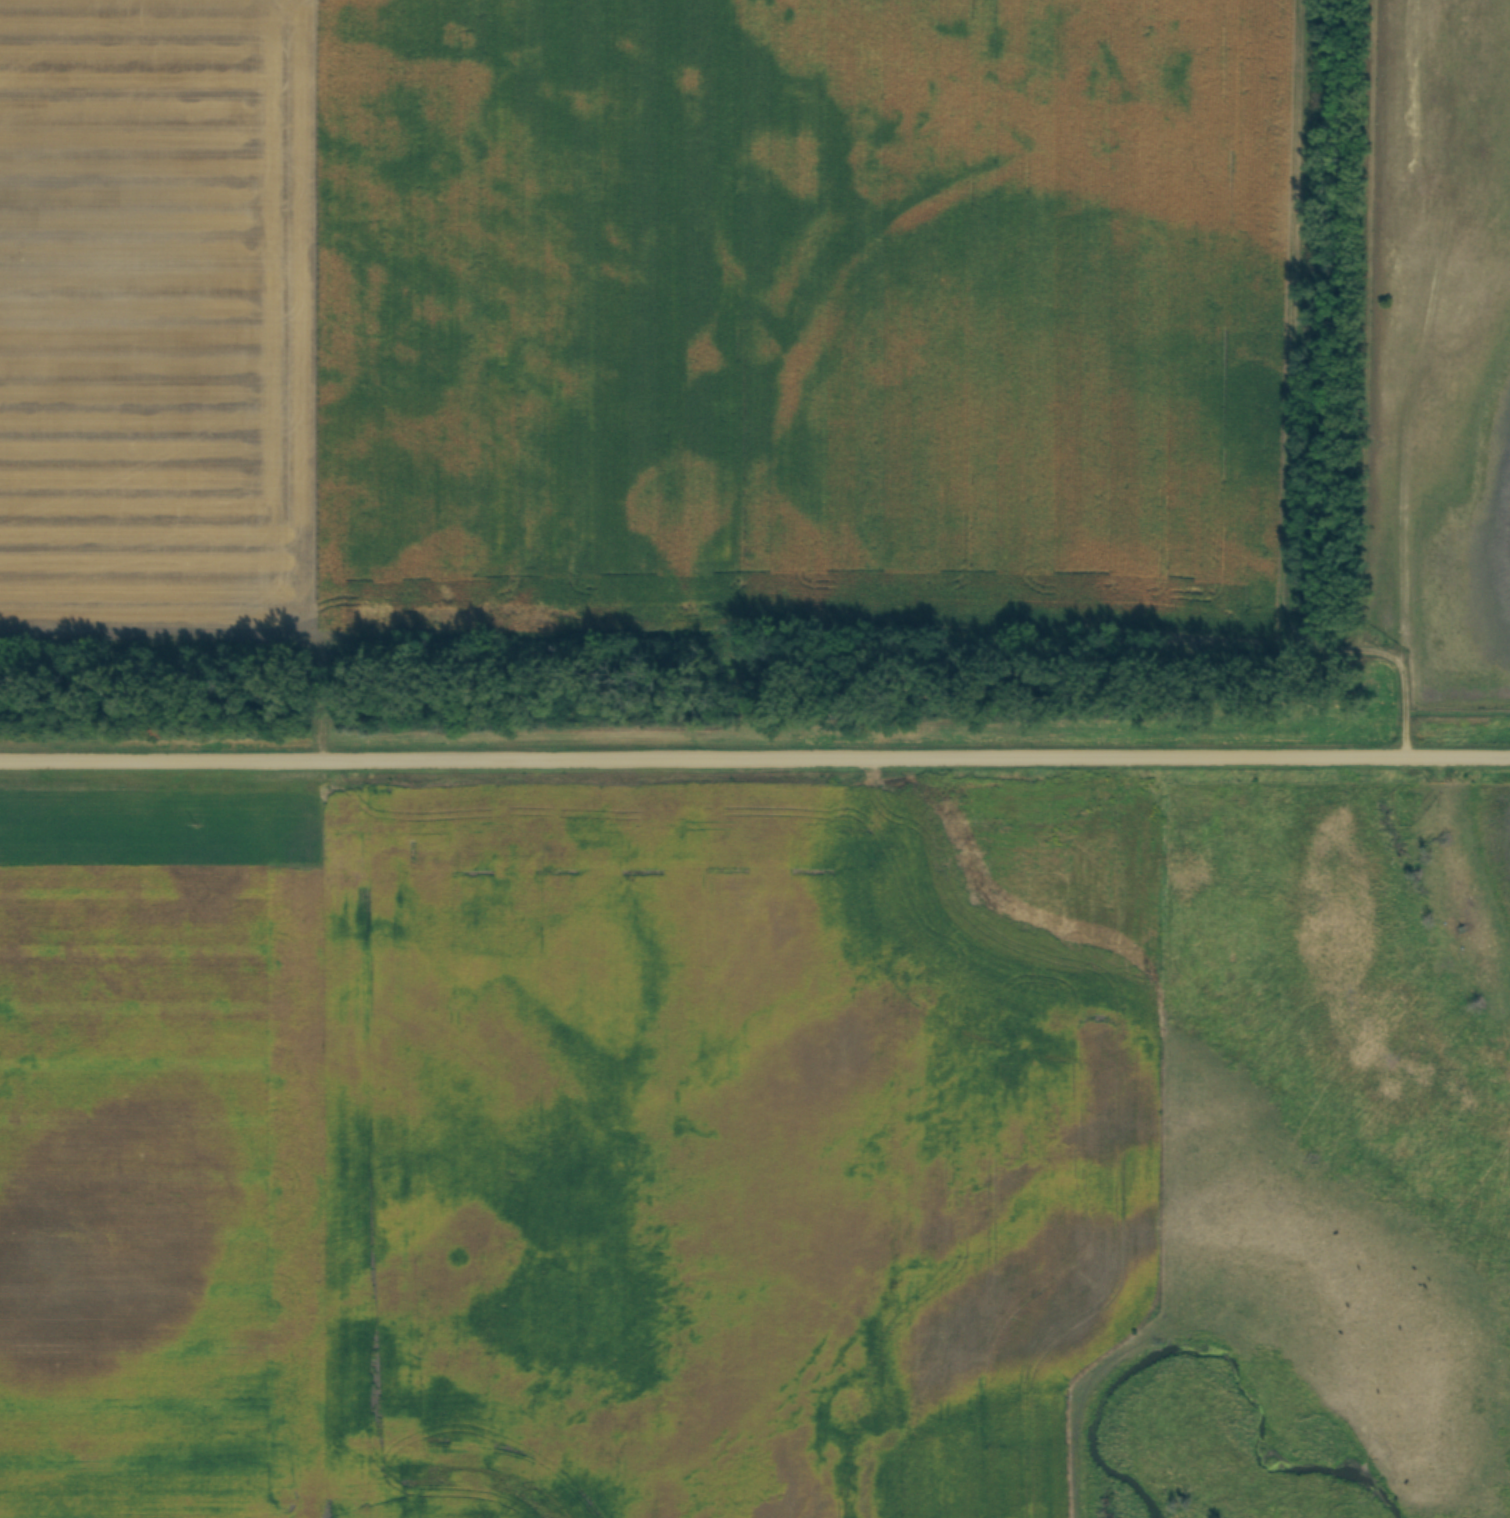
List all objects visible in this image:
crop: (152, 301)
road: (755, 759)

